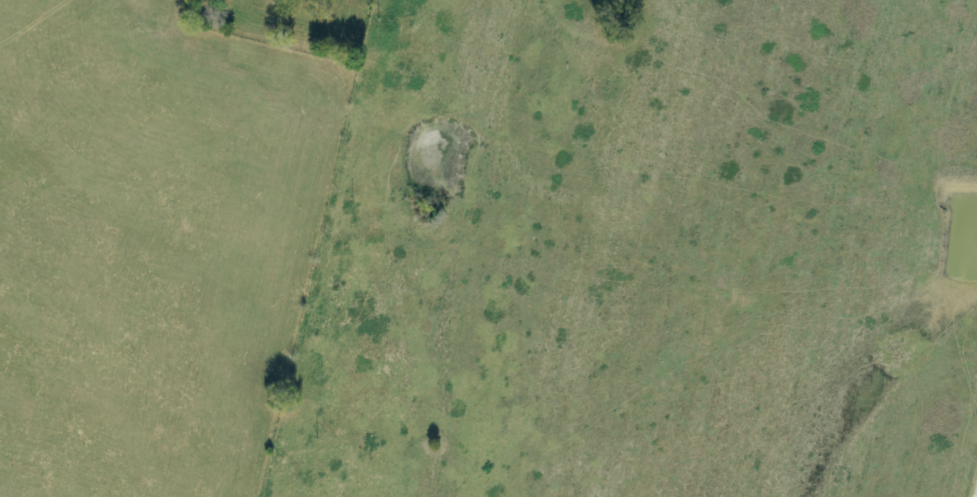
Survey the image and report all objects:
road: (34, 22)

